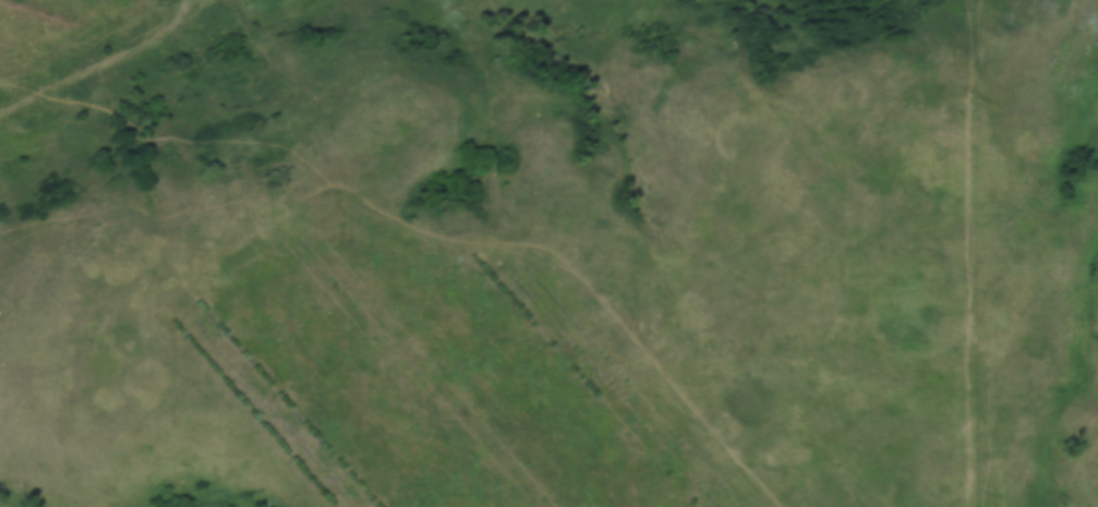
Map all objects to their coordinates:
road: (102, 62)

